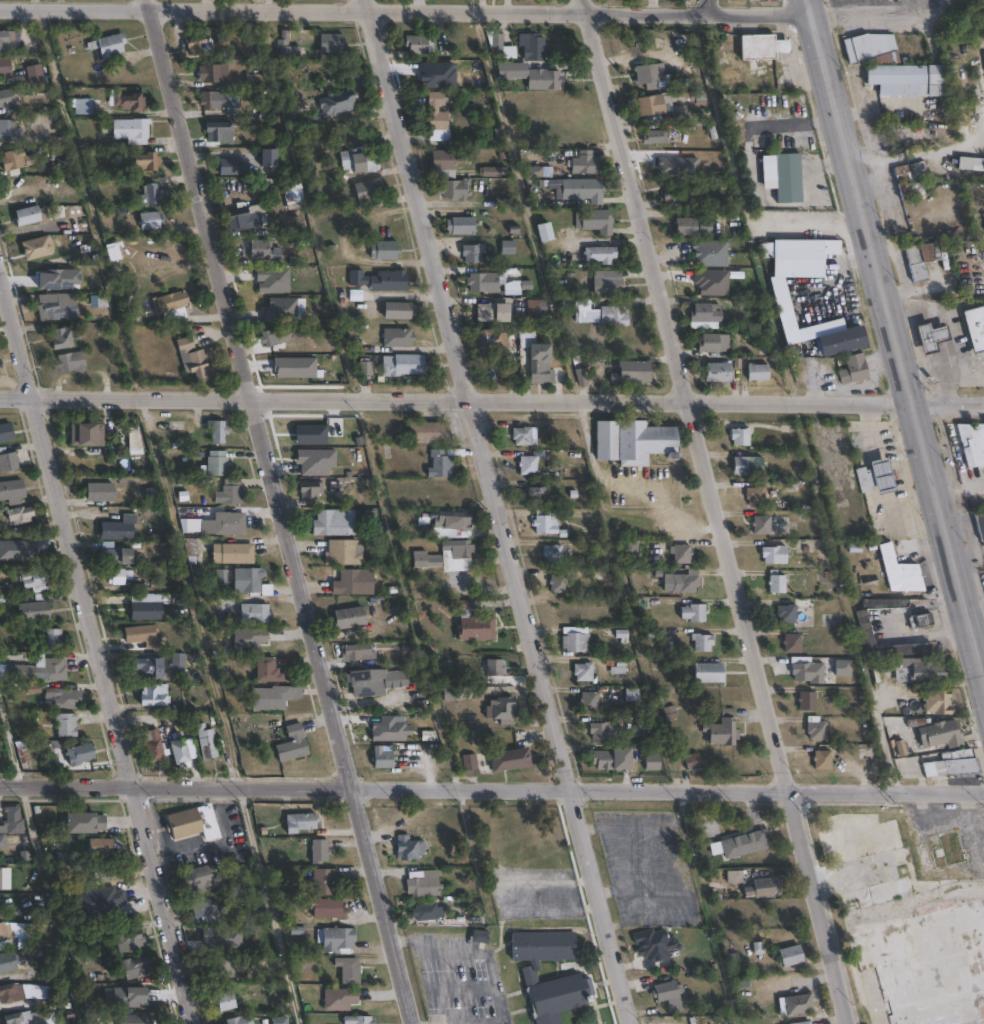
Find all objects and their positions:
road: (833, 9)
road: (405, 10)
road: (869, 14)
building: (6, 41)
building: (195, 43)
building: (331, 43)
building: (420, 44)
building: (497, 44)
building: (111, 45)
building: (534, 45)
building: (287, 46)
building: (763, 46)
building: (869, 46)
building: (4, 66)
building: (513, 69)
building: (213, 73)
building: (34, 75)
building: (649, 75)
building: (256, 79)
building: (909, 79)
building: (550, 80)
building: (8, 96)
building: (691, 97)
building: (213, 100)
building: (132, 102)
building: (338, 102)
building: (652, 104)
building: (84, 106)
building: (680, 112)
building: (439, 113)
road: (792, 124)
building: (10, 131)
building: (135, 131)
building: (219, 131)
building: (656, 136)
road: (747, 144)
road: (918, 152)
building: (269, 158)
building: (12, 159)
building: (443, 159)
building: (147, 160)
building: (360, 160)
building: (585, 162)
building: (972, 163)
building: (228, 166)
building: (494, 171)
building: (909, 171)
building: (789, 178)
building: (916, 188)
building: (581, 189)
building: (370, 190)
building: (453, 190)
building: (152, 193)
building: (677, 194)
road: (802, 206)
building: (27, 215)
building: (236, 217)
building: (150, 220)
building: (595, 220)
building: (983, 222)
building: (461, 225)
building: (695, 226)
building: (545, 232)
building: (37, 247)
building: (508, 247)
building: (261, 250)
building: (385, 250)
building: (473, 252)
building: (713, 252)
building: (601, 254)
building: (961, 256)
building: (801, 257)
building: (922, 259)
building: (272, 280)
building: (380, 280)
building: (484, 282)
building: (608, 286)
building: (97, 300)
building: (60, 304)
building: (171, 305)
building: (279, 308)
building: (399, 310)
building: (536, 311)
building: (492, 312)
building: (586, 312)
building: (615, 315)
building: (705, 316)
building: (976, 328)
road: (896, 336)
building: (62, 337)
building: (527, 337)
building: (933, 337)
gas station: (933, 337)
building: (276, 338)
building: (398, 338)
building: (492, 341)
building: (843, 341)
building: (713, 343)
building: (316, 347)
building: (191, 359)
building: (70, 362)
building: (404, 365)
building: (365, 367)
building: (540, 367)
building: (854, 369)
building: (632, 372)
building: (719, 372)
building: (759, 372)
building: (582, 379)
road: (457, 399)
building: (218, 431)
building: (5, 432)
building: (429, 432)
building: (86, 434)
building: (525, 436)
building: (741, 437)
building: (132, 438)
building: (633, 442)
building: (972, 444)
building: (8, 461)
building: (217, 464)
building: (441, 464)
building: (528, 465)
building: (748, 466)
building: (885, 477)
building: (866, 479)
building: (310, 490)
building: (101, 492)
building: (11, 493)
building: (536, 495)
building: (230, 496)
building: (756, 496)
road: (500, 511)
road: (717, 511)
road: (282, 512)
building: (20, 515)
building: (546, 521)
building: (334, 523)
building: (452, 523)
building: (225, 524)
building: (193, 525)
building: (762, 525)
building: (981, 526)
building: (119, 529)
building: (631, 547)
building: (458, 548)
building: (191, 550)
building: (344, 553)
building: (232, 554)
building: (553, 554)
building: (682, 554)
building: (775, 554)
building: (116, 556)
building: (426, 558)
building: (901, 571)
building: (219, 576)
building: (117, 577)
building: (34, 579)
building: (247, 580)
building: (685, 582)
building: (354, 583)
building: (559, 583)
building: (777, 584)
building: (35, 610)
building: (146, 611)
building: (694, 613)
building: (261, 614)
building: (787, 614)
building: (350, 618)
building: (924, 620)
building: (473, 623)
building: (865, 627)
building: (139, 634)
building: (249, 639)
building: (53, 640)
road: (96, 642)
building: (577, 642)
building: (703, 643)
building: (793, 643)
building: (358, 652)
building: (179, 663)
building: (617, 666)
building: (50, 668)
building: (495, 668)
building: (149, 669)
building: (845, 669)
building: (807, 670)
building: (267, 671)
building: (19, 672)
building: (583, 672)
building: (920, 672)
building: (709, 673)
building: (365, 684)
building: (460, 693)
building: (154, 695)
building: (66, 699)
building: (271, 699)
building: (807, 701)
building: (589, 703)
building: (939, 703)
building: (502, 711)
building: (65, 724)
building: (724, 730)
building: (603, 731)
building: (818, 732)
building: (942, 735)
building: (206, 742)
building: (293, 743)
building: (153, 745)
road: (9, 746)
building: (179, 751)
building: (80, 753)
building: (382, 757)
building: (613, 757)
building: (511, 759)
building: (823, 759)
building: (653, 761)
building: (694, 761)
building: (470, 762)
building: (952, 767)
road: (492, 791)
building: (13, 820)
building: (194, 822)
building: (301, 822)
building: (86, 824)
building: (2, 839)
building: (741, 844)
building: (101, 847)
building: (408, 847)
building: (946, 848)
building: (320, 850)
building: (109, 874)
building: (195, 876)
building: (736, 876)
building: (323, 882)
building: (423, 882)
building: (765, 888)
building: (100, 900)
building: (206, 905)
building: (327, 907)
building: (427, 911)
building: (6, 932)
building: (480, 936)
building: (130, 938)
building: (337, 938)
building: (653, 944)
building: (543, 950)
building: (924, 950)
building: (792, 955)
building: (7, 961)
building: (220, 966)
building: (136, 967)
building: (349, 969)
building: (668, 990)
building: (11, 993)
building: (558, 997)
building: (339, 998)
building: (225, 1000)
building: (799, 1004)
building: (38, 1017)
building: (17, 1018)
building: (135, 1019)
building: (237, 1020)
building: (359, 1020)
building: (804, 1023)

